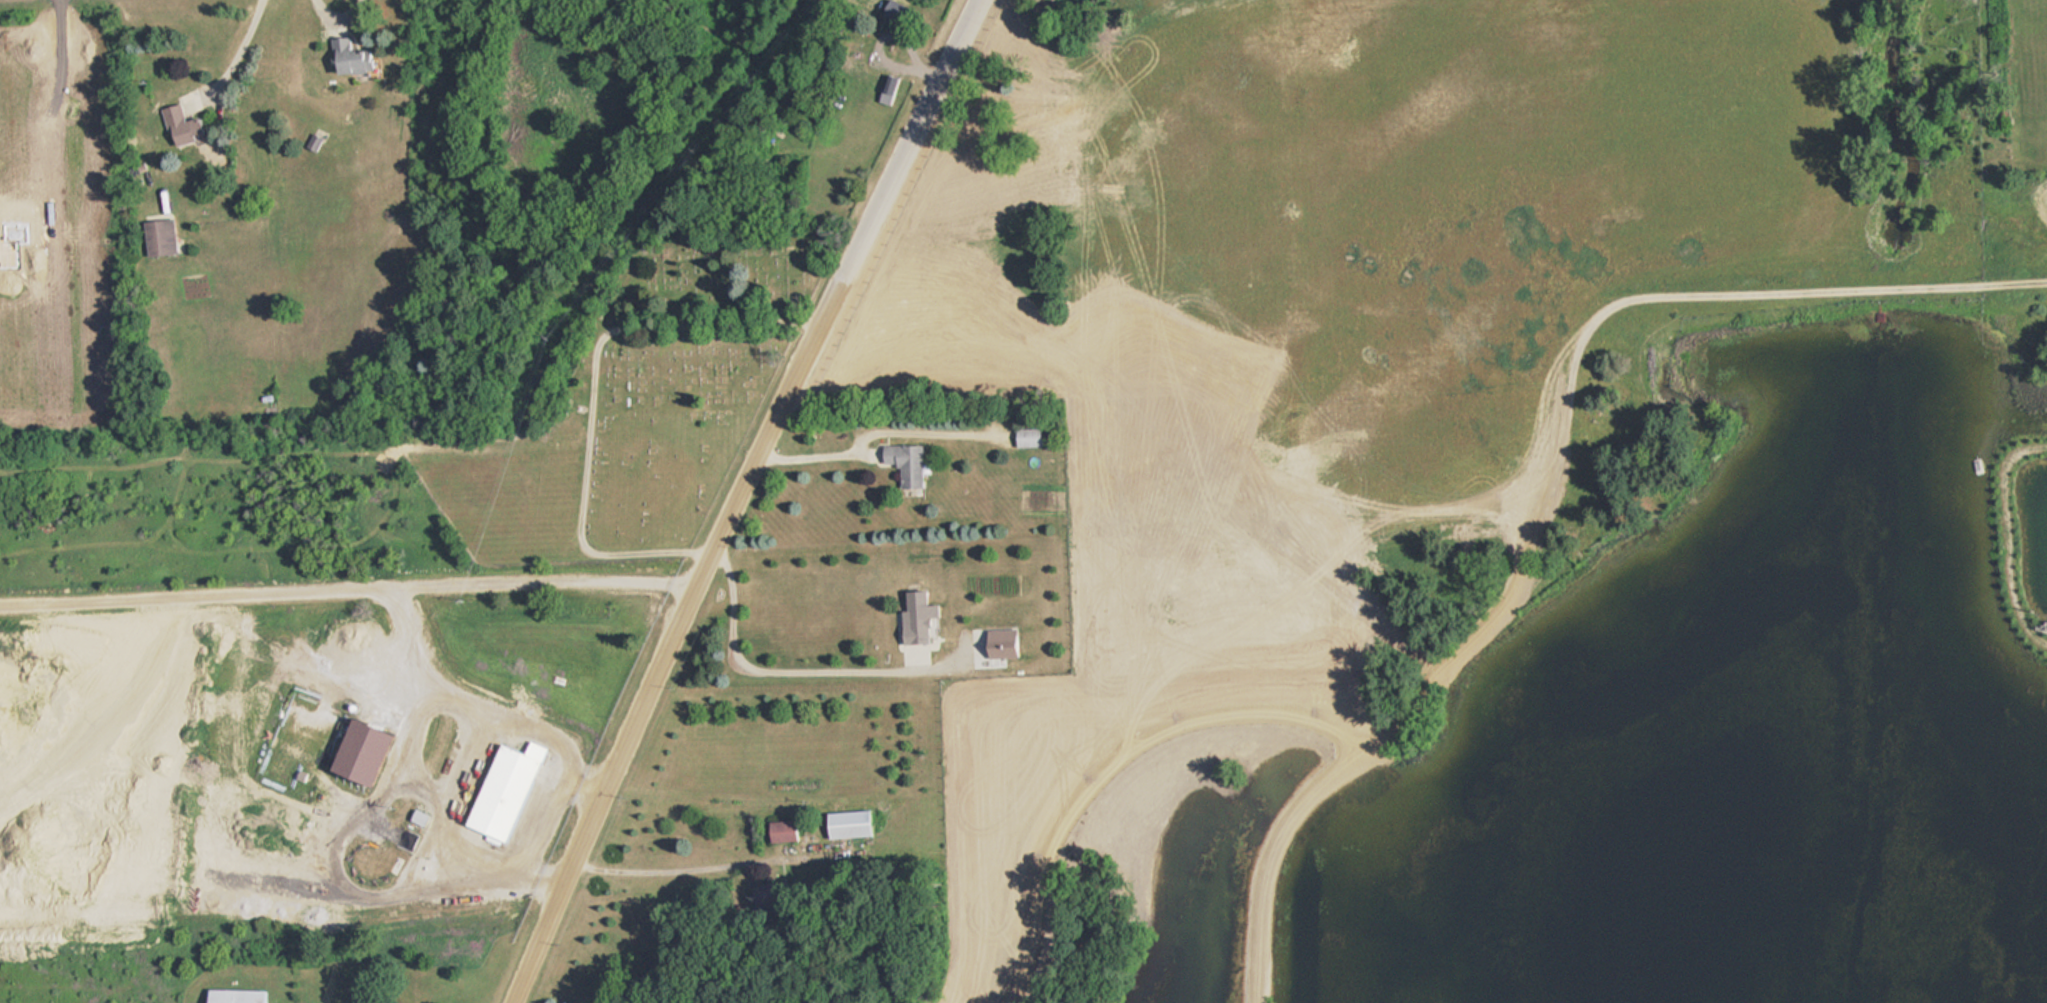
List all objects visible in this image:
building: (895, 12)
building: (344, 56)
building: (885, 89)
building: (1018, 104)
building: (187, 127)
road: (909, 140)
building: (166, 238)
park: (596, 381)
building: (1024, 437)
building: (901, 463)
building: (911, 617)
road: (668, 637)
building: (352, 754)
building: (500, 792)
building: (844, 825)
building: (778, 831)
building: (232, 996)

